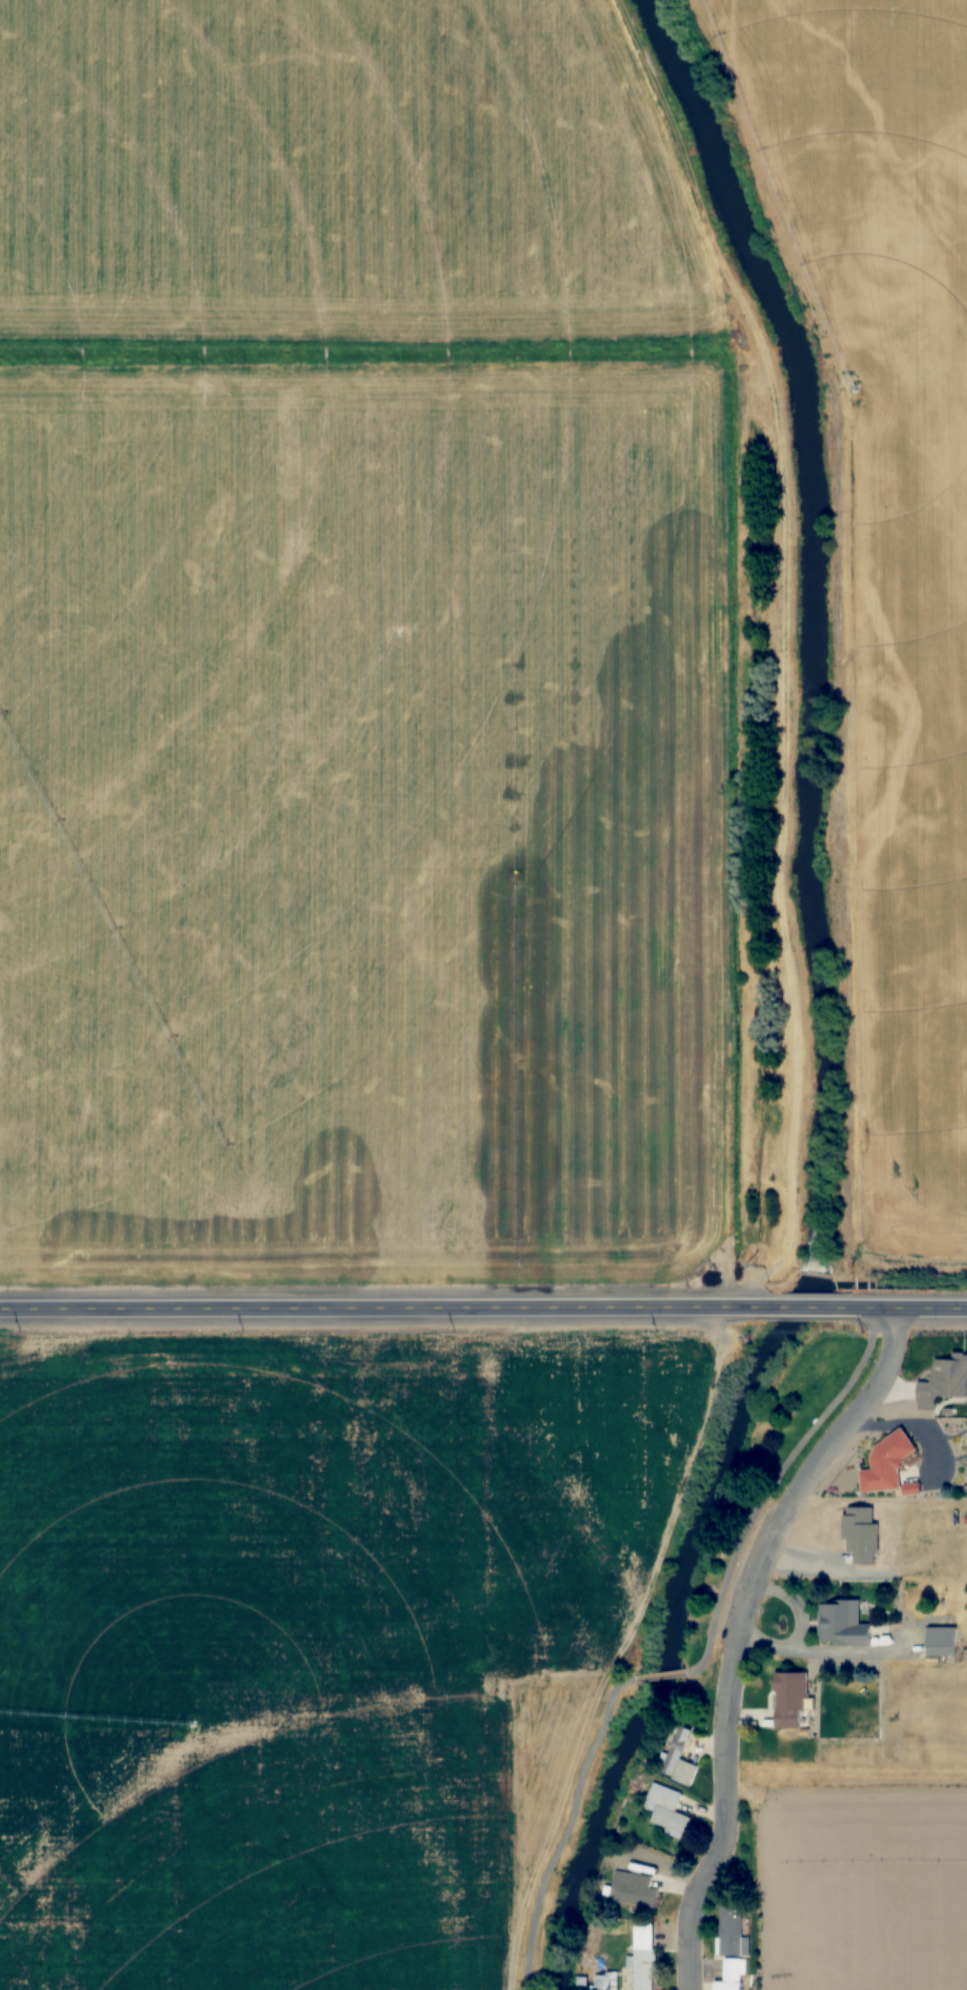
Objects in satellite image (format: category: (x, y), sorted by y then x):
road: (785, 646)
river: (820, 1003)
road: (805, 1308)
road: (904, 1308)
road: (384, 1310)
building: (943, 1382)
building: (884, 1465)
road: (772, 1485)
building: (842, 1624)
road: (741, 1631)
building: (941, 1642)
crop: (299, 1659)
road: (662, 1676)
building: (791, 1700)
building: (676, 1757)
building: (665, 1810)
road: (568, 1827)
building: (634, 1889)
crop: (855, 1893)
building: (731, 1930)
building: (644, 1956)
building: (731, 1975)
building: (599, 1981)

